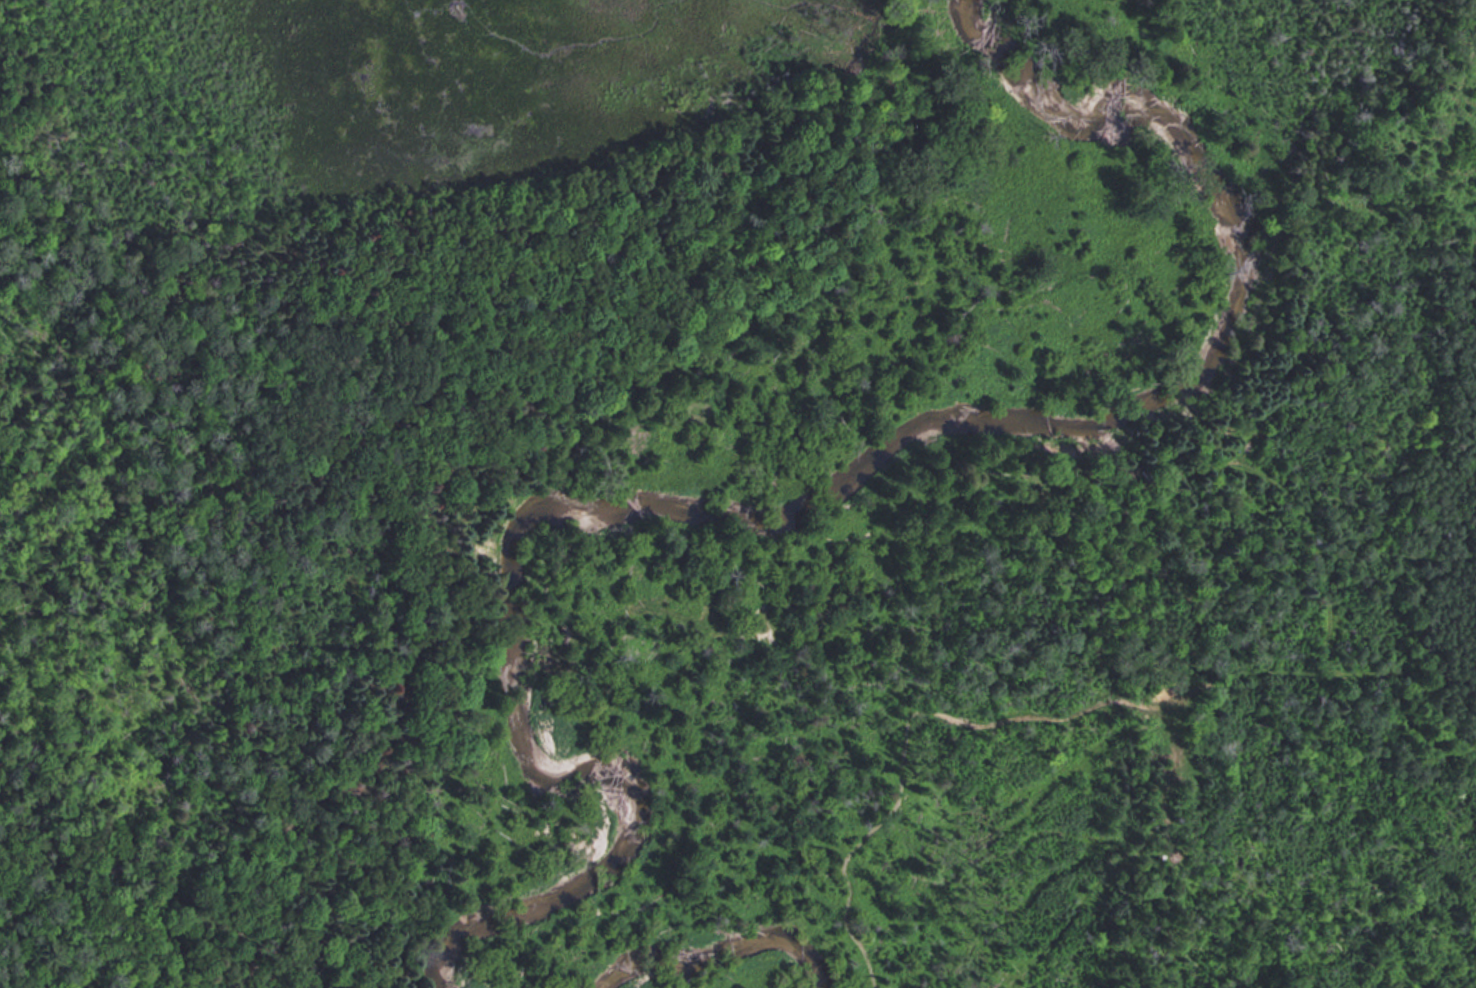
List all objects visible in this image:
river: (670, 478)

